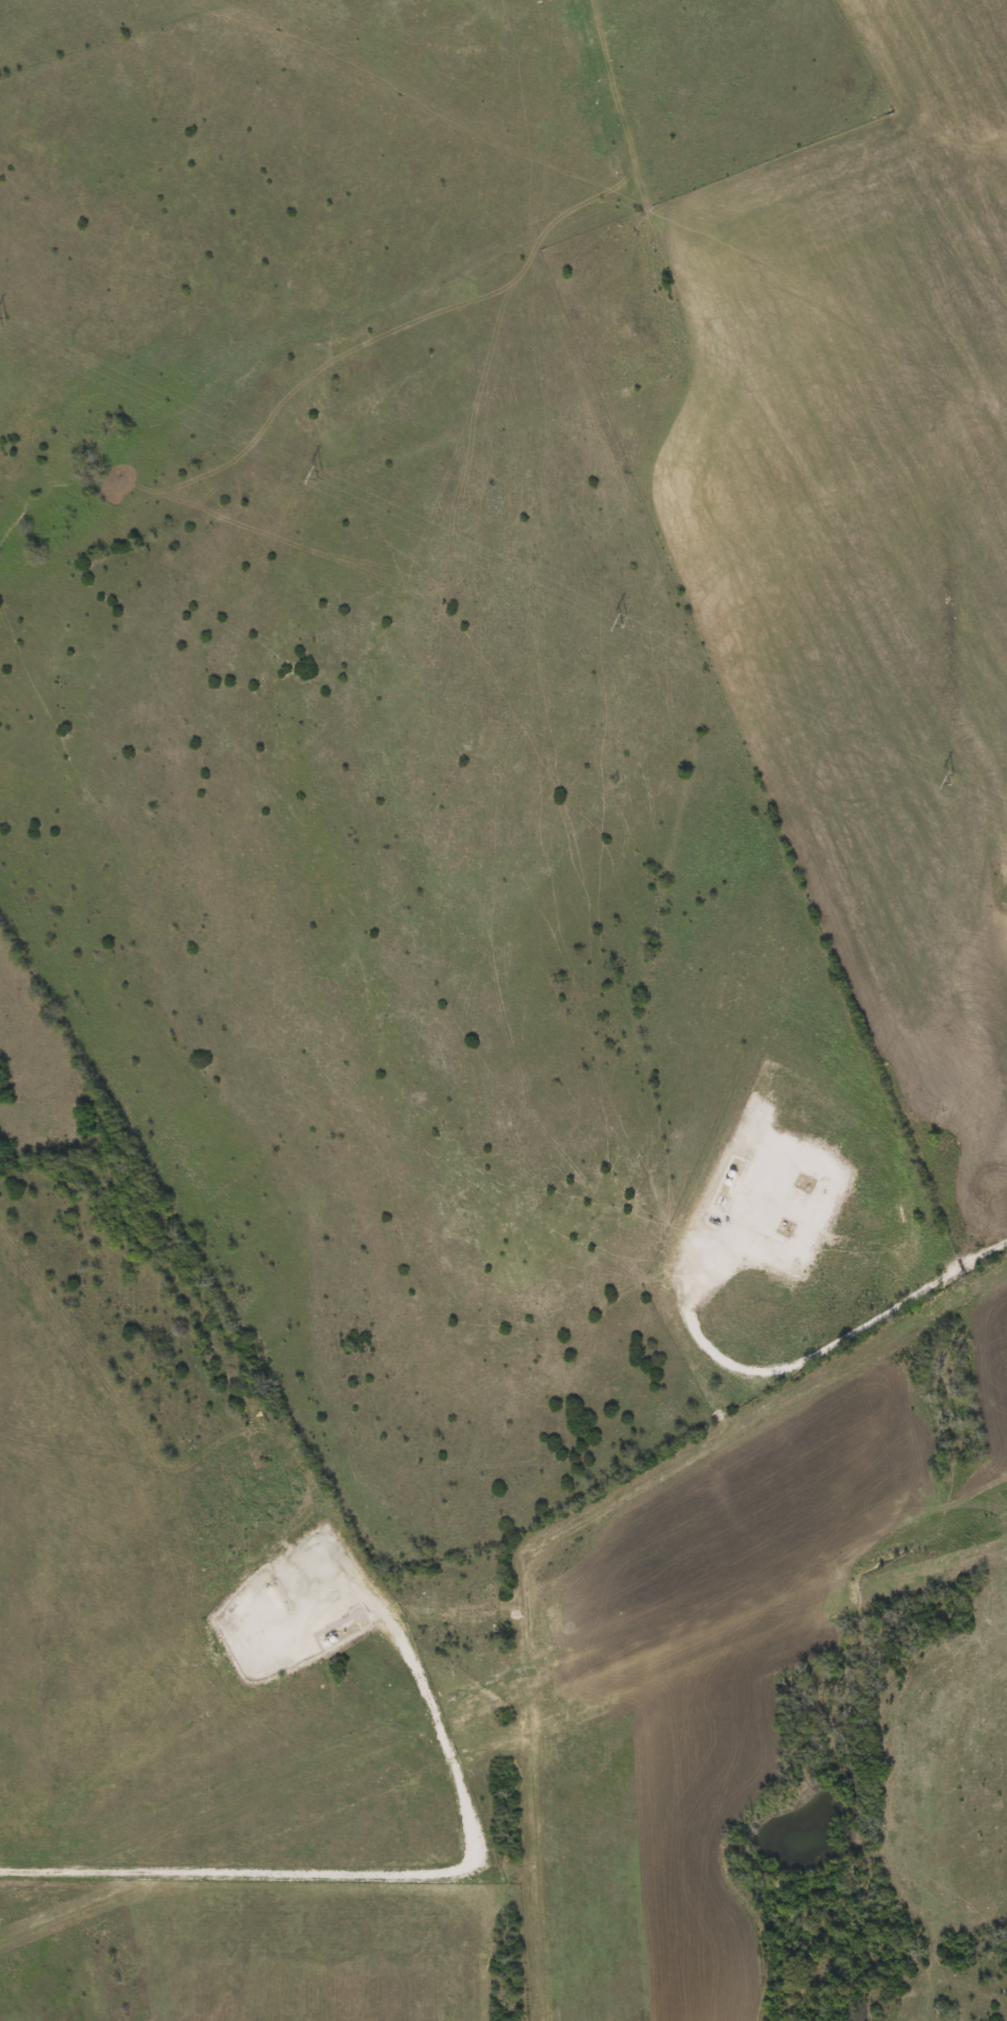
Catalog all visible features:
road: (376, 1871)

